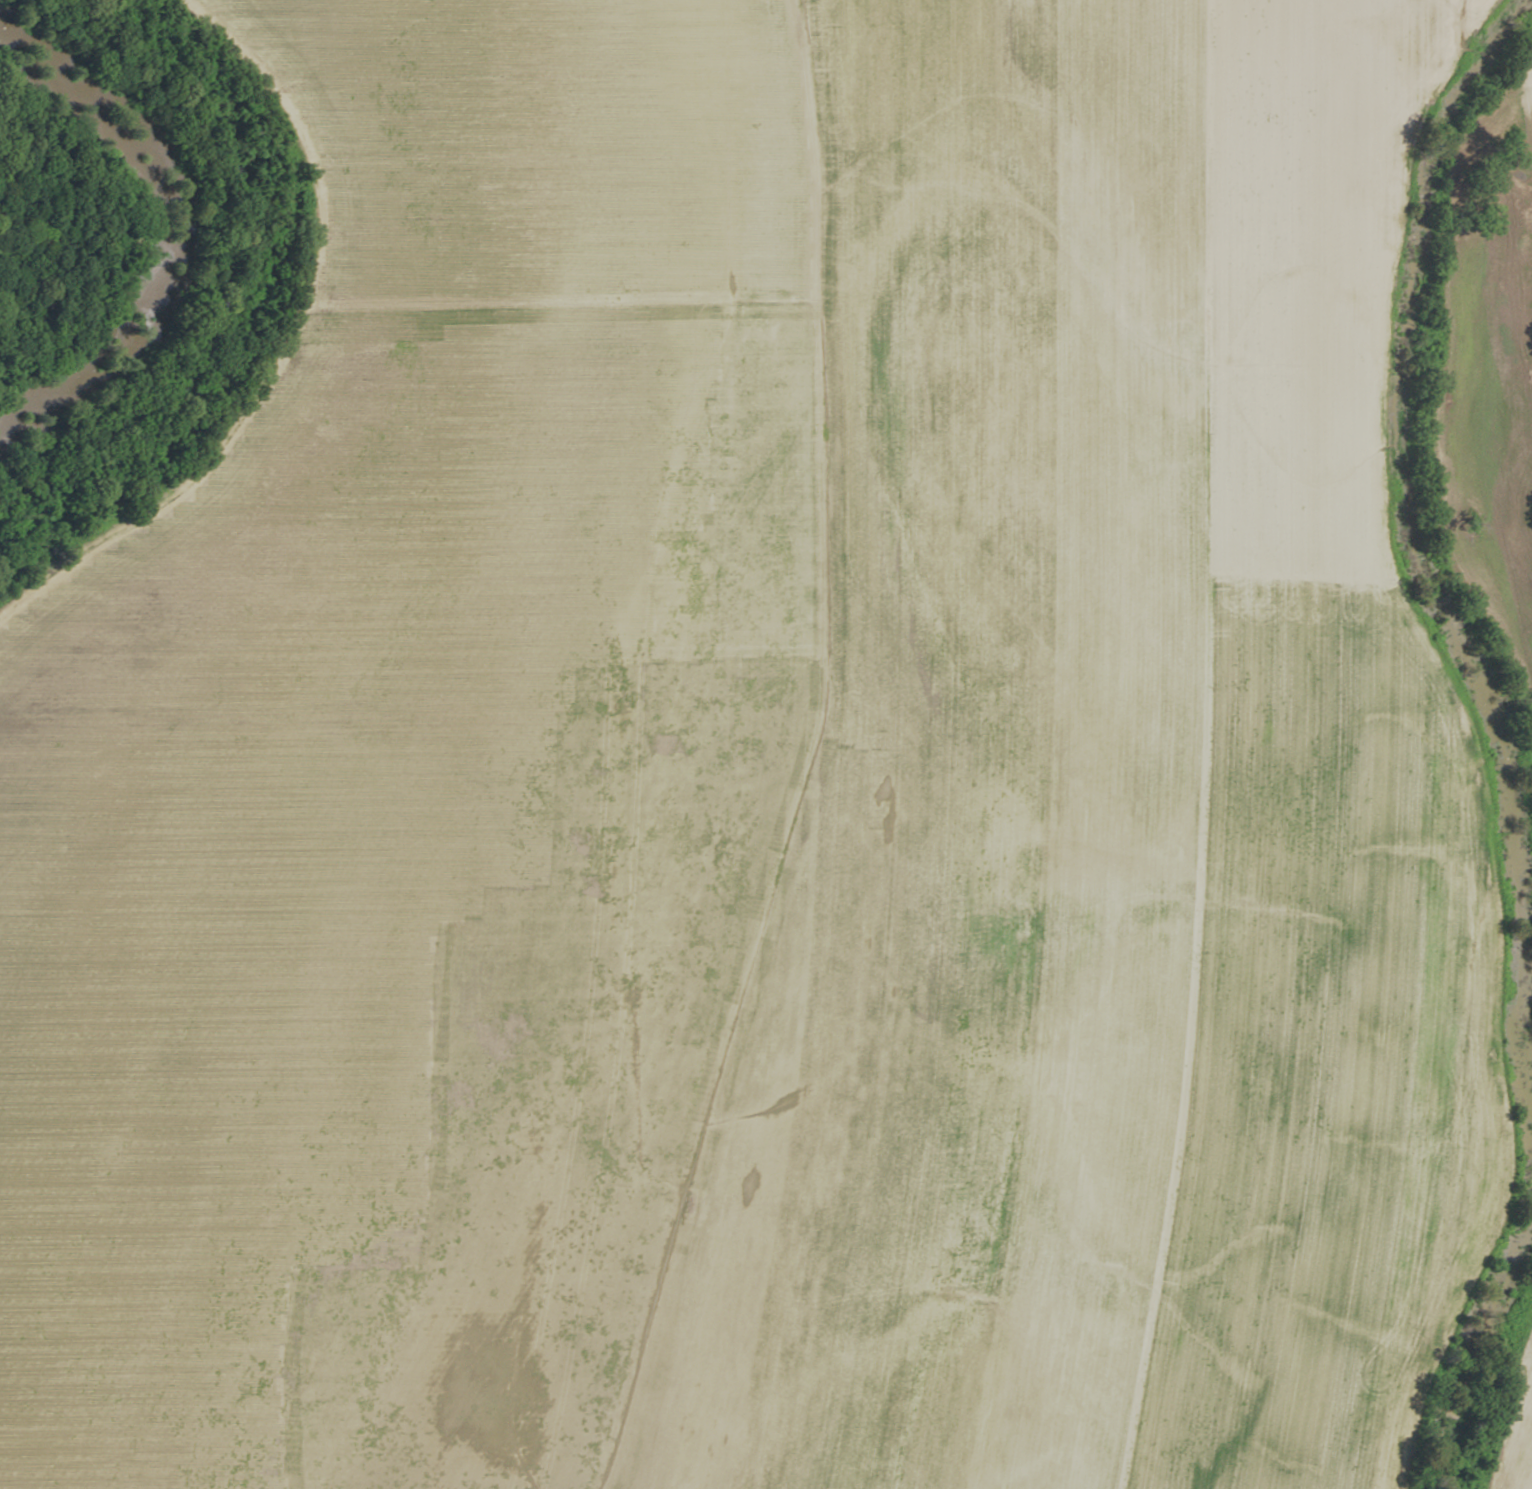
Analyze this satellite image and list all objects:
road: (279, 321)

